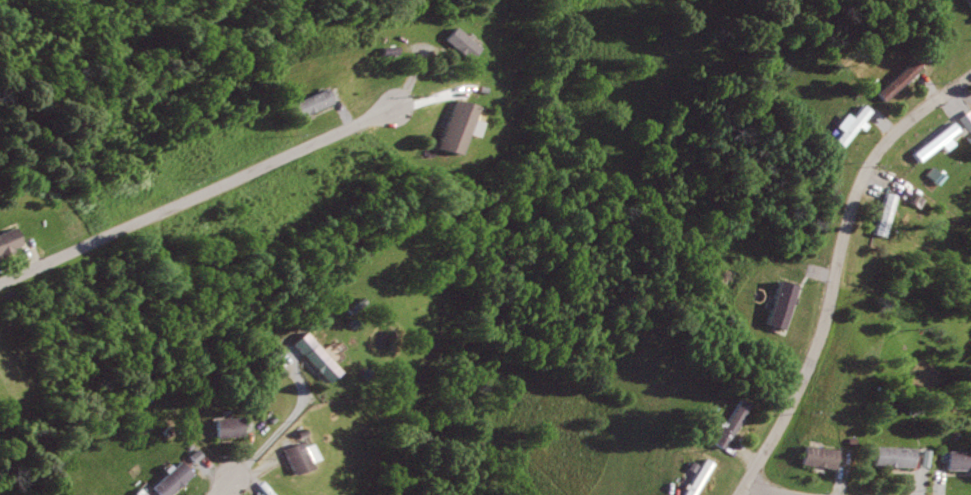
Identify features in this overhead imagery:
road: (969, 2)
building: (456, 42)
building: (384, 46)
road: (405, 78)
building: (899, 80)
road: (931, 86)
road: (965, 91)
road: (425, 98)
building: (312, 101)
road: (344, 110)
road: (956, 111)
building: (964, 121)
building: (852, 125)
road: (886, 125)
building: (456, 126)
building: (938, 141)
building: (934, 176)
building: (943, 178)
road: (884, 179)
road: (197, 194)
building: (887, 213)
building: (7, 241)
road: (30, 255)
road: (836, 269)
building: (781, 304)
road: (768, 336)
building: (297, 342)
building: (321, 361)
building: (913, 407)
building: (732, 423)
road: (280, 424)
building: (227, 427)
building: (164, 430)
road: (243, 453)
building: (193, 454)
road: (746, 455)
building: (893, 455)
building: (298, 457)
building: (819, 457)
building: (958, 459)
road: (254, 470)
road: (920, 472)
road: (841, 473)
building: (701, 476)
building: (171, 479)
road: (939, 482)
road: (221, 487)
road: (245, 487)
road: (768, 489)
road: (675, 492)
road: (140, 493)
road: (776, 494)

